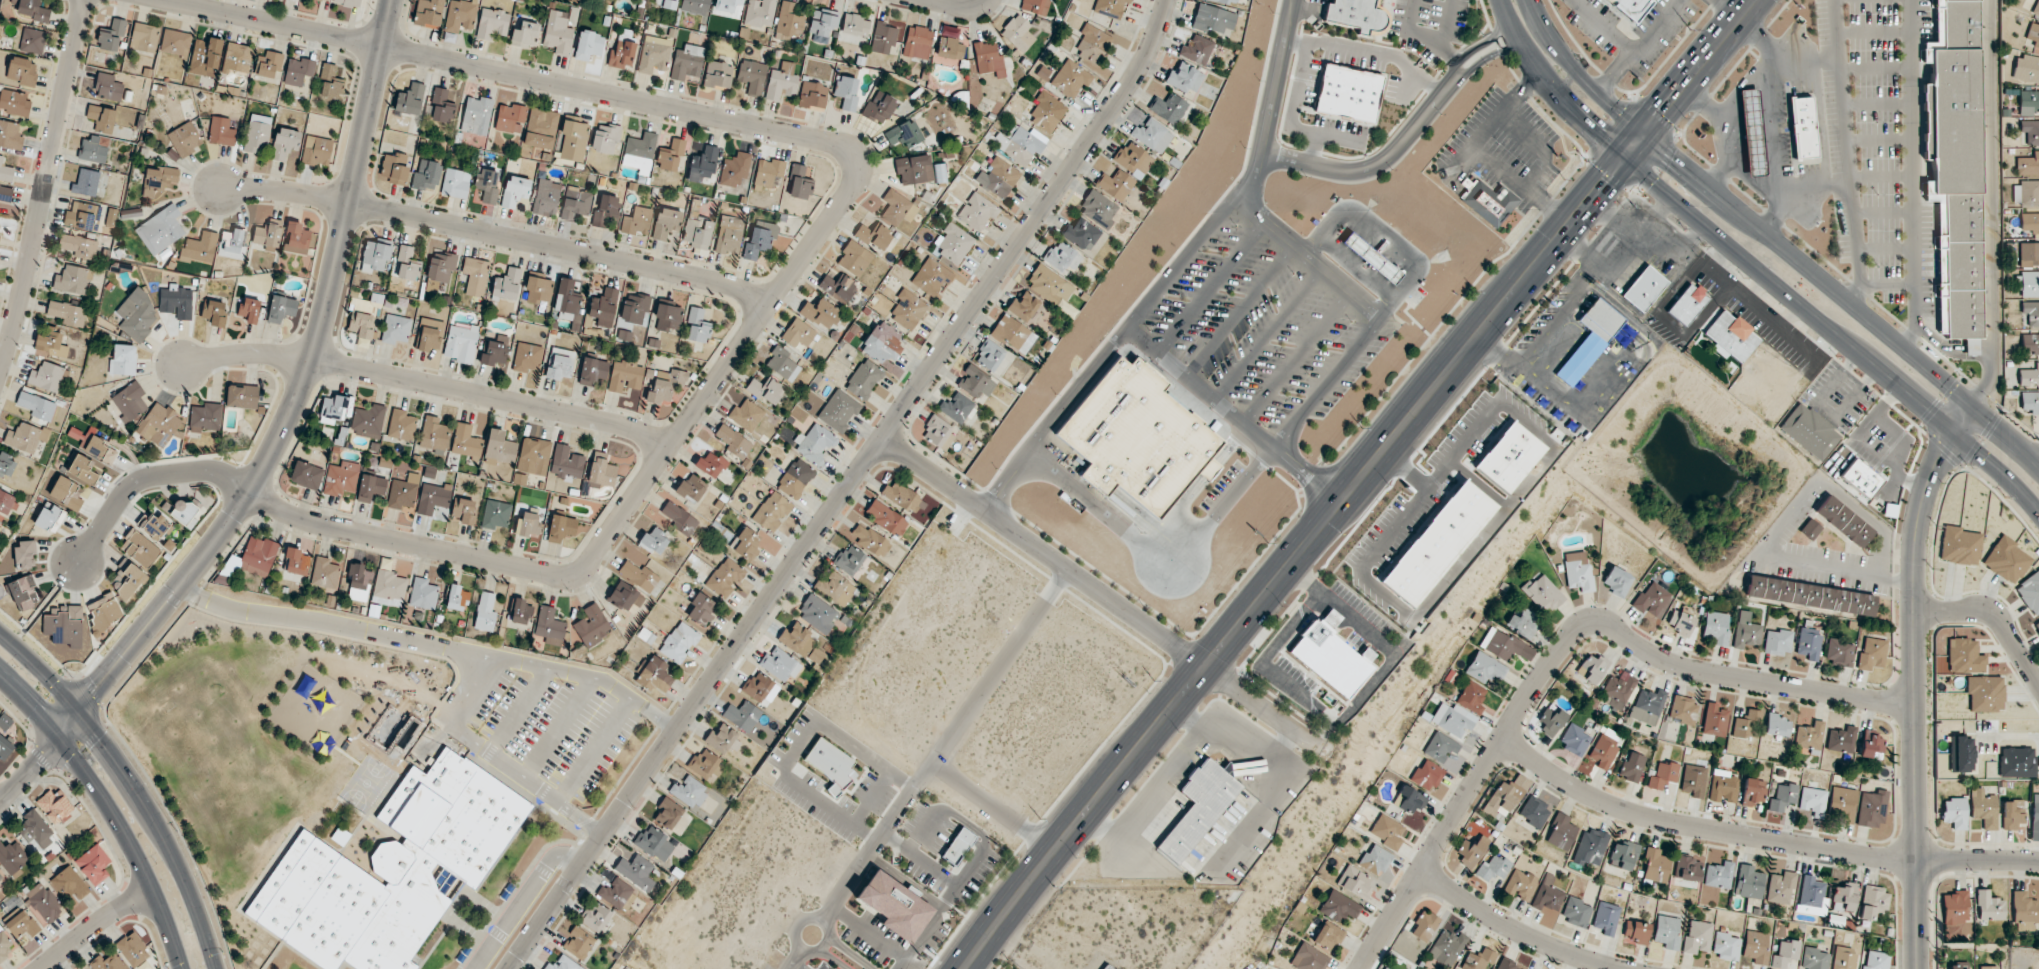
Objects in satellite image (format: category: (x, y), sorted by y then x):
building: (324, 0)
building: (1227, 1)
building: (347, 3)
building: (667, 4)
building: (725, 5)
building: (695, 6)
road: (952, 6)
building: (1035, 6)
building: (1110, 8)
building: (1630, 8)
building: (2036, 8)
building: (32, 11)
building: (428, 13)
building: (759, 13)
building: (1357, 14)
building: (460, 16)
building: (1212, 19)
building: (788, 22)
building: (505, 24)
building: (822, 25)
building: (854, 29)
power tower: (1688, 29)
building: (1018, 33)
building: (557, 34)
building: (2033, 34)
building: (111, 35)
building: (525, 35)
building: (144, 37)
building: (883, 38)
building: (32, 40)
building: (917, 42)
building: (175, 43)
building: (1092, 43)
building: (588, 45)
building: (948, 46)
building: (1196, 49)
building: (621, 54)
building: (654, 54)
building: (205, 56)
road: (1802, 56)
building: (988, 58)
building: (237, 59)
building: (687, 62)
building: (268, 64)
road: (1696, 68)
building: (2026, 68)
building: (22, 71)
building: (298, 71)
road: (1578, 74)
building: (718, 75)
building: (752, 76)
building: (1070, 78)
building: (1184, 78)
building: (329, 82)
building: (781, 82)
road: (1566, 83)
road: (1740, 85)
building: (107, 87)
road: (1550, 87)
building: (846, 91)
building: (1348, 94)
building: (812, 96)
building: (409, 99)
building: (14, 102)
building: (2028, 102)
building: (441, 107)
building: (878, 107)
building: (1169, 108)
road: (1652, 110)
traffic signals: (1662, 110)
building: (1047, 112)
building: (476, 115)
building: (101, 118)
building: (512, 119)
road: (1772, 121)
road: (1604, 125)
building: (1802, 128)
building: (540, 129)
traffic signals: (1590, 130)
road: (1725, 130)
building: (2030, 131)
building: (221, 132)
building: (1751, 132)
gas station: (1751, 132)
building: (902, 134)
building: (11, 135)
building: (1152, 135)
road: (1672, 136)
building: (257, 137)
building: (186, 138)
building: (605, 139)
building: (573, 140)
building: (285, 143)
building: (1019, 144)
road: (1631, 148)
building: (92, 150)
building: (316, 152)
building: (639, 153)
road: (1846, 153)
building: (670, 155)
building: (1132, 158)
power tower: (1583, 158)
traffic signals: (1673, 160)
building: (702, 164)
building: (2028, 165)
building: (1954, 166)
building: (393, 168)
building: (912, 168)
building: (734, 169)
building: (5, 171)
road: (1656, 171)
road: (1606, 173)
building: (768, 174)
building: (425, 175)
road: (1913, 176)
building: (997, 177)
building: (159, 181)
building: (85, 182)
building: (455, 183)
building: (799, 183)
traffic signals: (1602, 183)
building: (1115, 184)
road: (1750, 184)
building: (487, 185)
road: (43, 186)
road: (1241, 187)
road: (1813, 188)
building: (515, 191)
building: (2026, 193)
building: (5, 195)
building: (546, 197)
building: (1488, 201)
building: (575, 203)
road: (1993, 206)
building: (1098, 208)
building: (897, 209)
building: (605, 210)
building: (977, 212)
building: (82, 215)
building: (111, 217)
building: (636, 221)
building: (666, 222)
building: (2029, 222)
building: (160, 229)
building: (697, 233)
building: (267, 234)
road: (495, 234)
building: (1081, 234)
building: (729, 235)
building: (874, 236)
building: (296, 238)
building: (760, 240)
building: (953, 243)
building: (232, 244)
building: (78, 247)
building: (199, 249)
building: (2029, 254)
building: (376, 255)
building: (1062, 256)
building: (1370, 257)
building: (854, 259)
building: (407, 264)
building: (441, 266)
building: (474, 276)
building: (932, 278)
building: (72, 280)
building: (511, 283)
building: (2027, 283)
building: (1049, 285)
road: (1887, 286)
building: (837, 287)
building: (1644, 288)
building: (538, 290)
power tower: (1473, 291)
road: (1789, 293)
road: (1843, 297)
building: (566, 300)
building: (176, 301)
building: (1687, 303)
road: (767, 304)
building: (603, 305)
building: (1023, 306)
building: (281, 309)
building: (635, 309)
building: (908, 309)
building: (248, 310)
building: (2031, 312)
building: (65, 313)
building: (213, 313)
building: (820, 313)
building: (137, 315)
building: (364, 316)
building: (667, 318)
building: (697, 326)
building: (396, 329)
building: (798, 334)
building: (1014, 334)
building: (430, 335)
building: (1731, 336)
building: (1590, 340)
road: (1936, 341)
building: (461, 342)
building: (882, 343)
building: (2030, 343)
building: (51, 344)
road: (1146, 345)
road: (1970, 348)
road: (1986, 348)
building: (504, 353)
building: (989, 355)
building: (527, 357)
building: (122, 359)
building: (783, 363)
building: (559, 364)
building: (592, 371)
building: (2029, 376)
building: (46, 377)
building: (625, 377)
building: (864, 379)
building: (975, 382)
road: (427, 383)
building: (764, 390)
building: (660, 392)
building: (241, 396)
building: (129, 401)
road: (295, 401)
building: (2030, 401)
traffic signals: (1969, 405)
building: (35, 406)
building: (956, 407)
building: (333, 409)
building: (838, 411)
building: (746, 415)
building: (205, 417)
road: (1961, 419)
building: (368, 420)
building: (159, 424)
building: (401, 424)
power tower: (1360, 427)
building: (1810, 431)
building: (938, 433)
traffic signals: (1953, 433)
building: (434, 434)
building: (1138, 437)
building: (26, 439)
building: (466, 442)
building: (733, 444)
building: (814, 444)
building: (1519, 446)
building: (97, 448)
building: (509, 452)
building: (532, 455)
building: (566, 463)
building: (709, 464)
building: (7, 465)
building: (1500, 468)
building: (82, 469)
road: (1998, 470)
building: (601, 473)
building: (306, 475)
building: (1860, 478)
building: (341, 479)
building: (795, 479)
building: (370, 487)
building: (690, 489)
road: (846, 489)
building: (403, 490)
building: (66, 494)
building: (903, 498)
building: (433, 499)
building: (5, 502)
building: (464, 511)
building: (184, 512)
building: (771, 512)
building: (506, 515)
building: (49, 518)
building: (678, 518)
building: (886, 518)
road: (1781, 521)
building: (1843, 521)
building: (527, 524)
building: (560, 528)
building: (1810, 529)
building: (870, 541)
building: (653, 542)
power tower: (1266, 542)
building: (1438, 543)
building: (745, 545)
building: (1959, 546)
building: (139, 549)
building: (25, 554)
building: (258, 556)
building: (2006, 559)
building: (849, 560)
road: (1289, 562)
building: (296, 565)
building: (1577, 571)
building: (325, 572)
building: (637, 576)
building: (724, 578)
building: (126, 580)
building: (1617, 580)
building: (358, 582)
building: (389, 588)
building: (835, 588)
road: (1100, 592)
building: (24, 593)
building: (423, 593)
building: (1542, 593)
building: (2030, 593)
building: (1809, 595)
building: (625, 596)
building: (457, 597)
building: (1652, 600)
building: (701, 609)
building: (104, 611)
building: (485, 611)
building: (520, 611)
building: (818, 614)
road: (1993, 617)
building: (1681, 620)
building: (1523, 622)
road: (337, 623)
building: (592, 625)
building: (2037, 625)
building: (64, 626)
building: (549, 626)
building: (1716, 627)
building: (1746, 634)
building: (796, 639)
building: (679, 642)
building: (1777, 642)
building: (1808, 643)
road: (1914, 643)
building: (1504, 645)
road: (1559, 646)
building: (1838, 652)
building: (1871, 654)
building: (816, 655)
building: (1964, 656)
building: (1330, 659)
building: (779, 665)
building: (1484, 667)
building: (1592, 668)
building: (655, 675)
power tower: (1152, 679)
road: (472, 682)
building: (757, 687)
building: (1618, 689)
building: (1985, 693)
building: (1471, 696)
building: (1647, 705)
building: (1683, 710)
traffic signals: (78, 712)
building: (742, 716)
building: (1452, 719)
building: (1714, 720)
building: (1551, 721)
building: (1747, 724)
building: (1777, 725)
building: (1809, 735)
traffic signals: (59, 738)
building: (1574, 739)
building: (1840, 739)
building: (722, 740)
road: (944, 744)
building: (1870, 745)
building: (1440, 747)
building: (4, 748)
building: (1604, 751)
building: (1959, 753)
building: (829, 762)
building: (2016, 762)
building: (705, 764)
road: (29, 767)
building: (1631, 767)
building: (1427, 775)
building: (1663, 775)
building: (1694, 778)
road: (132, 785)
building: (1723, 786)
building: (689, 791)
building: (1752, 791)
building: (1504, 796)
building: (1782, 797)
building: (1408, 800)
building: (1813, 801)
building: (1843, 803)
building: (55, 805)
road: (993, 807)
building: (1199, 807)
building: (1872, 808)
building: (1983, 808)
road: (109, 810)
building: (1533, 811)
building: (1954, 813)
building: (2011, 813)
building: (668, 814)
power tower: (1038, 818)
building: (2035, 818)
road: (1700, 828)
building: (1387, 831)
building: (1560, 832)
building: (340, 836)
building: (654, 843)
building: (1590, 846)
building: (957, 847)
building: (1470, 851)
building: (1622, 855)
building: (13, 858)
building: (1375, 859)
road: (1977, 860)
building: (93, 865)
building: (1654, 866)
building: (1686, 867)
building: (1492, 868)
building: (391, 870)
building: (636, 871)
building: (1718, 875)
building: (0, 876)
building: (1354, 882)
building: (1748, 882)
building: (69, 884)
building: (1520, 885)
building: (1780, 887)
building: (617, 894)
building: (1547, 894)
building: (1811, 895)
building: (1843, 897)
building: (43, 902)
building: (1872, 902)
building: (1989, 906)
building: (1340, 907)
building: (1954, 907)
building: (1576, 911)
building: (2024, 912)
road: (1916, 915)
building: (595, 917)
building: (1606, 918)
building: (21, 923)
road: (93, 925)
building: (1424, 925)
road: (793, 926)
road: (1515, 929)
building: (1636, 931)
building: (1666, 931)
building: (1697, 936)
building: (1327, 937)
building: (578, 943)
building: (5, 946)
building: (1725, 946)
building: (1755, 946)
building: (1446, 947)
building: (131, 949)
building: (1785, 953)
power tower: (918, 955)
road: (841, 957)
road: (789, 958)
building: (1308, 958)
building: (1843, 958)
building: (1478, 959)
building: (1814, 959)
building: (1875, 960)
building: (106, 963)
building: (561, 964)
building: (1507, 965)
building: (1107, 966)
building: (1957, 966)
building: (1988, 967)
building: (1385, 968)

